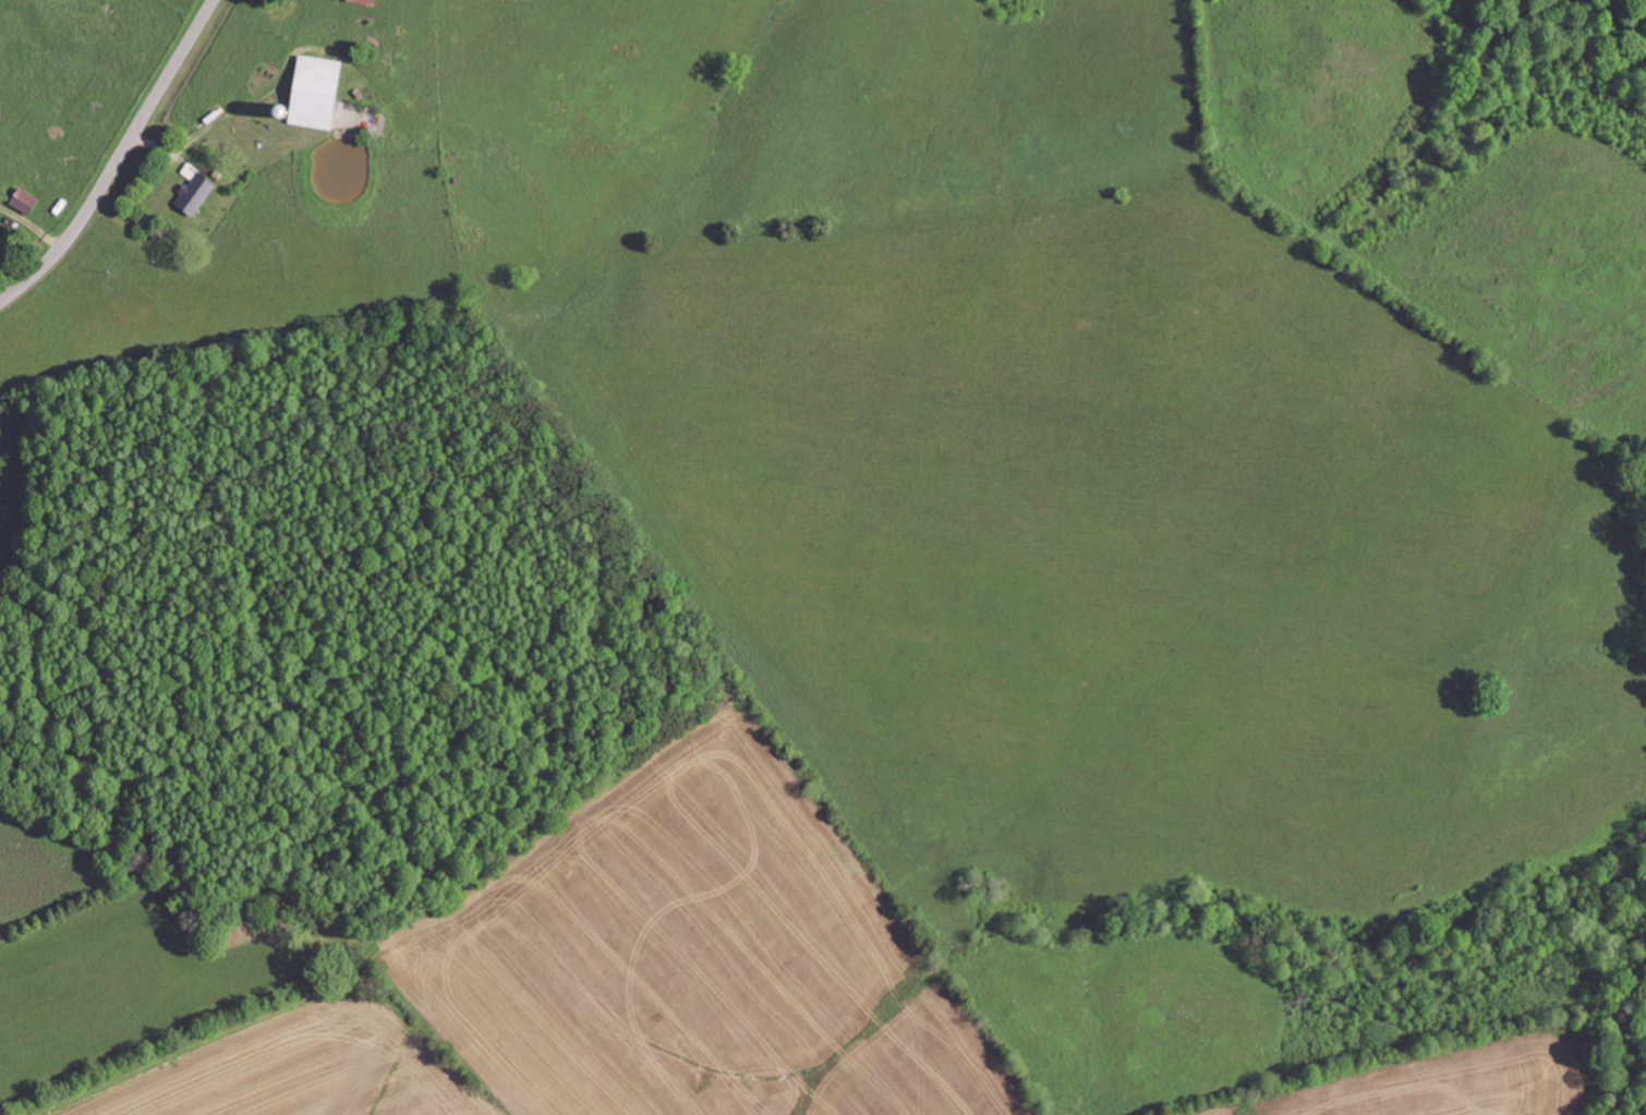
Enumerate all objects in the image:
building: (366, 1)
building: (319, 92)
road: (118, 160)
building: (196, 192)
building: (26, 201)

